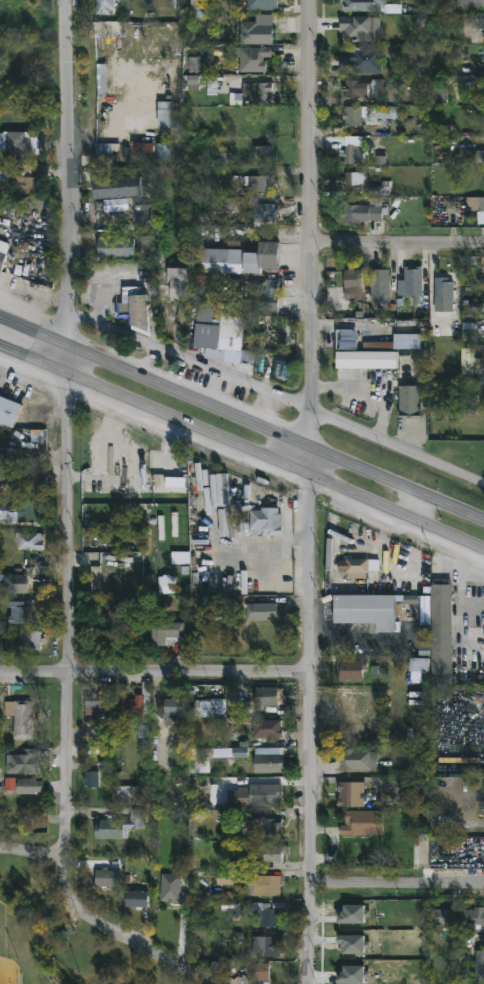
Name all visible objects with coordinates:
building: (470, 2)
building: (363, 5)
building: (104, 6)
building: (196, 6)
building: (26, 7)
building: (356, 27)
building: (257, 29)
building: (253, 58)
building: (362, 60)
building: (100, 81)
building: (363, 88)
building: (256, 91)
building: (383, 112)
building: (166, 114)
building: (353, 115)
building: (131, 125)
building: (19, 144)
building: (105, 153)
building: (264, 153)
building: (352, 156)
road: (71, 174)
building: (25, 179)
building: (353, 181)
building: (3, 182)
building: (260, 186)
building: (106, 188)
building: (227, 203)
building: (476, 207)
building: (264, 212)
building: (361, 212)
building: (143, 214)
road: (315, 225)
building: (116, 247)
road: (399, 248)
building: (2, 249)
building: (235, 257)
road: (10, 261)
road: (104, 281)
building: (353, 281)
building: (379, 283)
building: (407, 283)
building: (178, 284)
building: (443, 290)
building: (265, 293)
building: (133, 308)
building: (219, 333)
building: (365, 360)
building: (470, 362)
road: (276, 397)
building: (409, 400)
building: (23, 417)
road: (241, 421)
road: (243, 445)
building: (114, 455)
building: (19, 511)
building: (266, 520)
building: (29, 540)
building: (225, 545)
building: (359, 564)
building: (109, 579)
building: (15, 582)
road: (72, 603)
building: (260, 610)
building: (17, 613)
building: (407, 620)
building: (165, 633)
building: (32, 640)
building: (418, 665)
building: (351, 670)
road: (155, 673)
building: (266, 695)
building: (97, 704)
building: (173, 707)
building: (208, 707)
building: (131, 708)
road: (312, 717)
building: (21, 718)
building: (266, 729)
building: (268, 759)
building: (352, 759)
building: (22, 761)
building: (200, 764)
building: (92, 781)
building: (28, 785)
building: (350, 793)
building: (362, 822)
building: (118, 825)
building: (265, 826)
building: (273, 851)
road: (36, 855)
building: (106, 877)
building: (263, 884)
road: (399, 888)
building: (171, 889)
building: (135, 898)
building: (166, 899)
building: (270, 914)
building: (474, 917)
building: (441, 918)
park: (66, 933)
road: (124, 937)
building: (267, 945)
building: (480, 964)
building: (259, 971)

